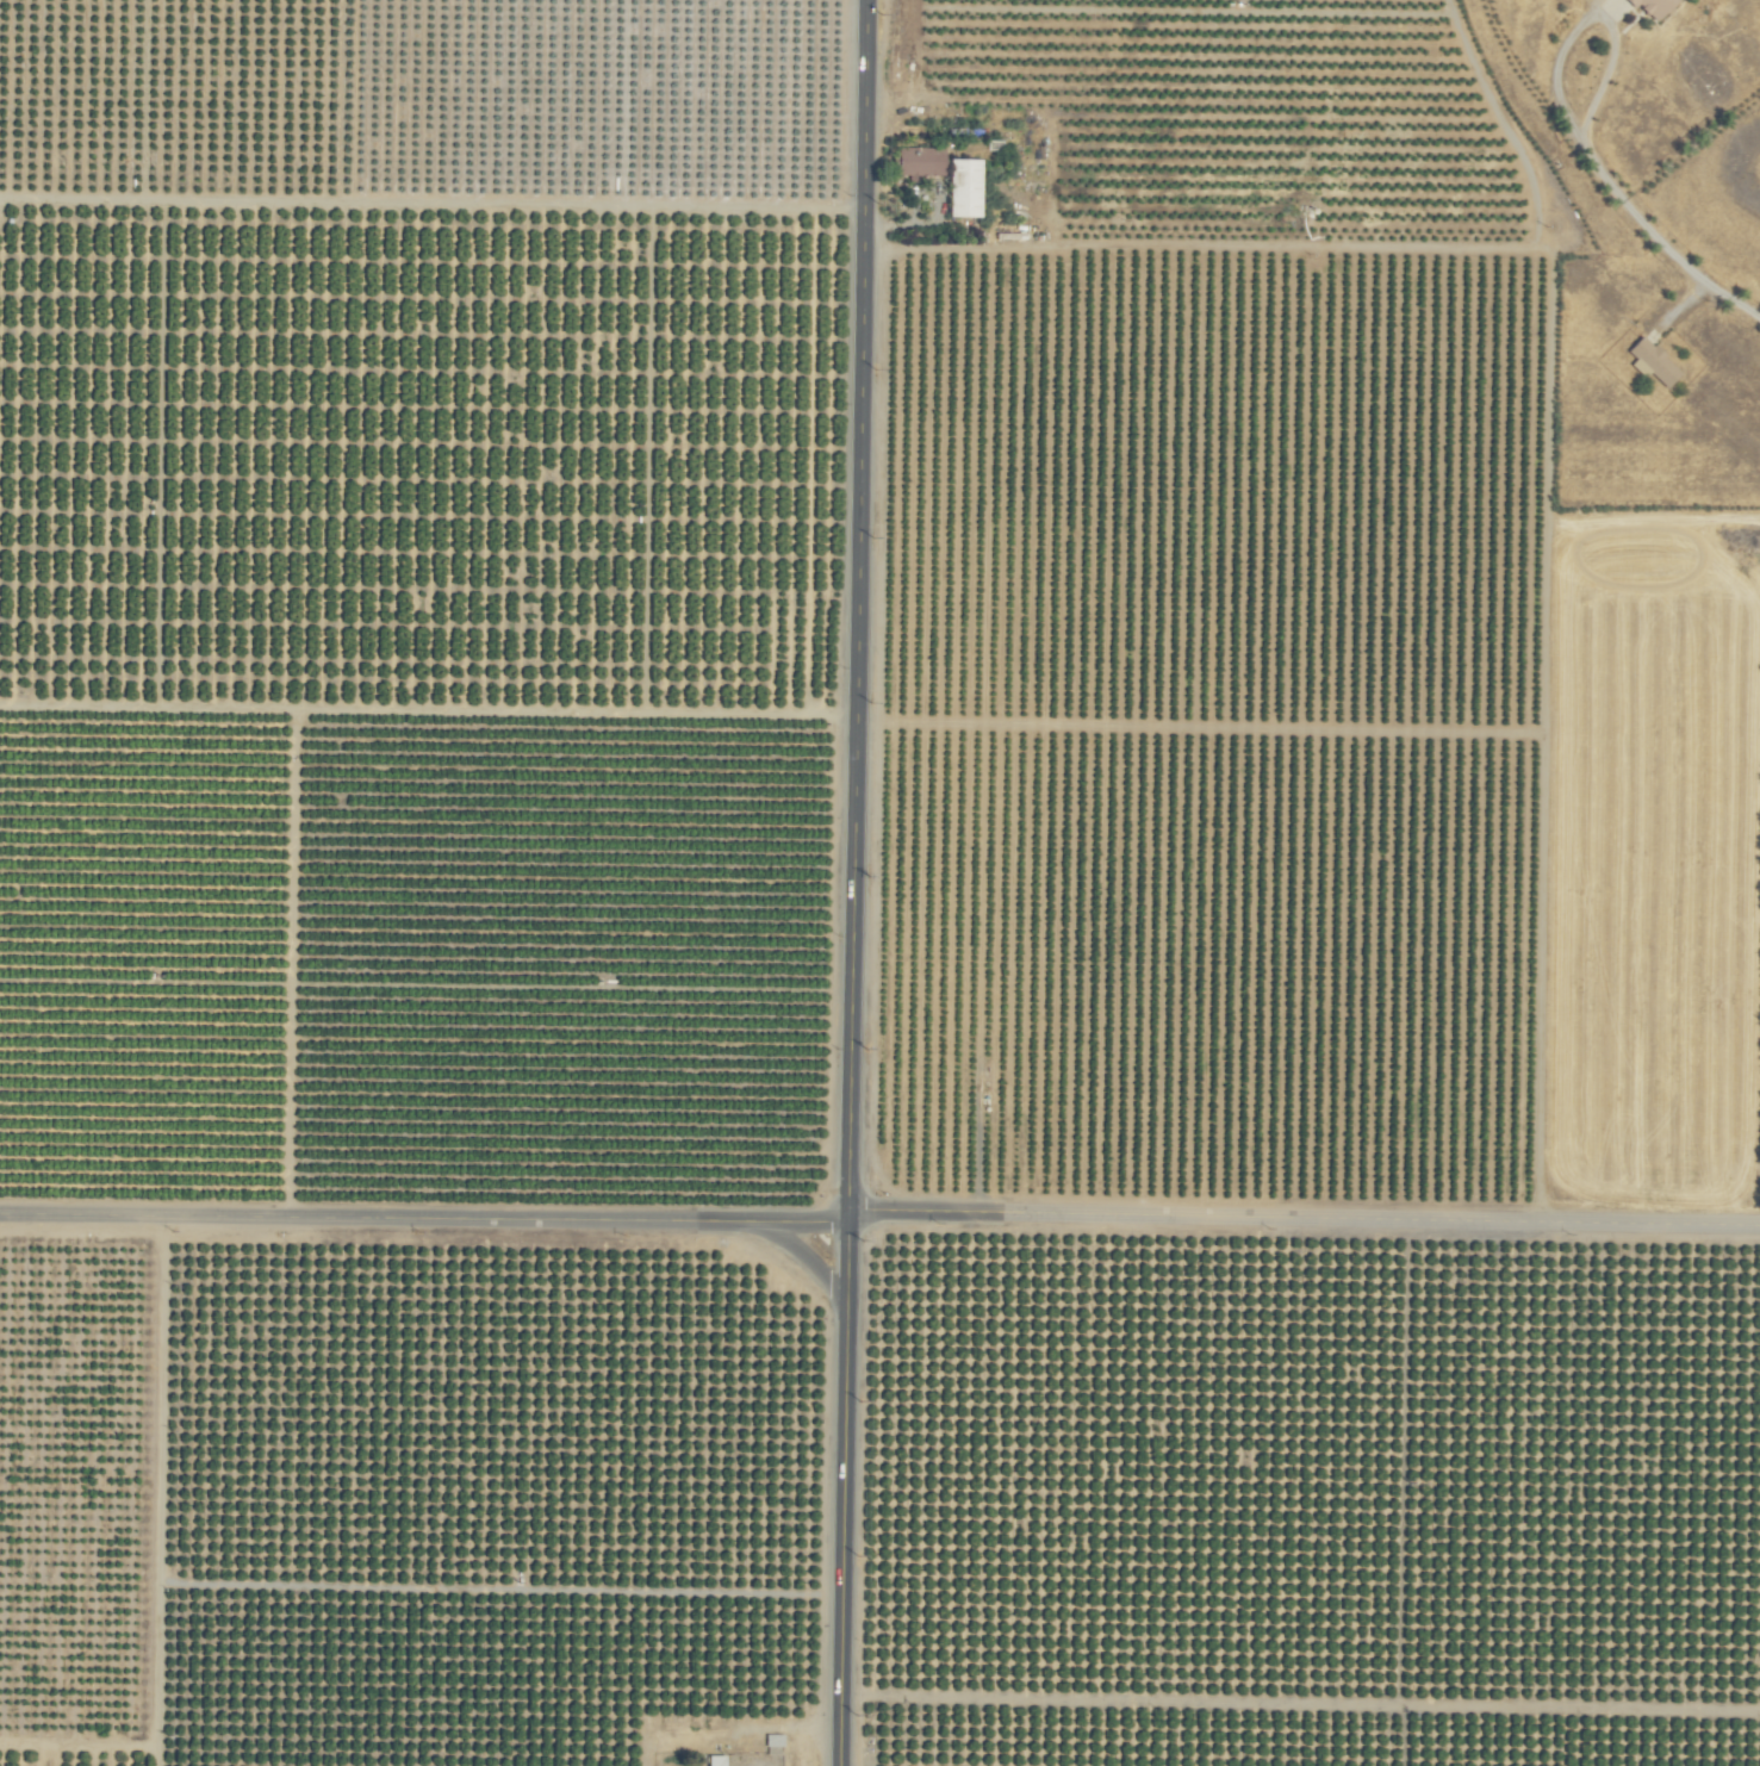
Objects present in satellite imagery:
building: (1655, 7)
road: (1593, 19)
building: (922, 162)
building: (966, 187)
road: (1660, 243)
building: (1654, 361)
road: (852, 608)
crop: (847, 909)
road: (879, 1217)
road: (798, 1251)
road: (838, 1491)
building: (775, 1741)
building: (717, 1761)

